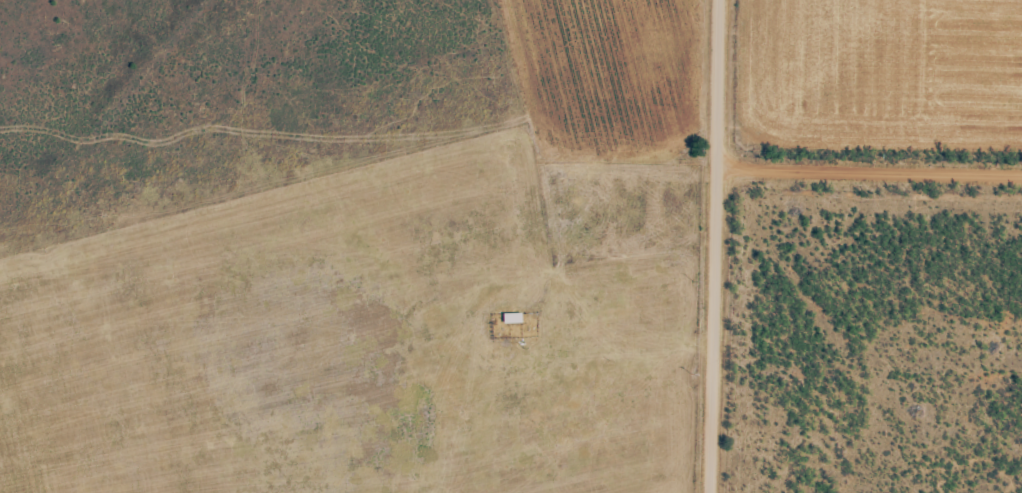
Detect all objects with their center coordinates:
road: (870, 161)
road: (715, 246)

